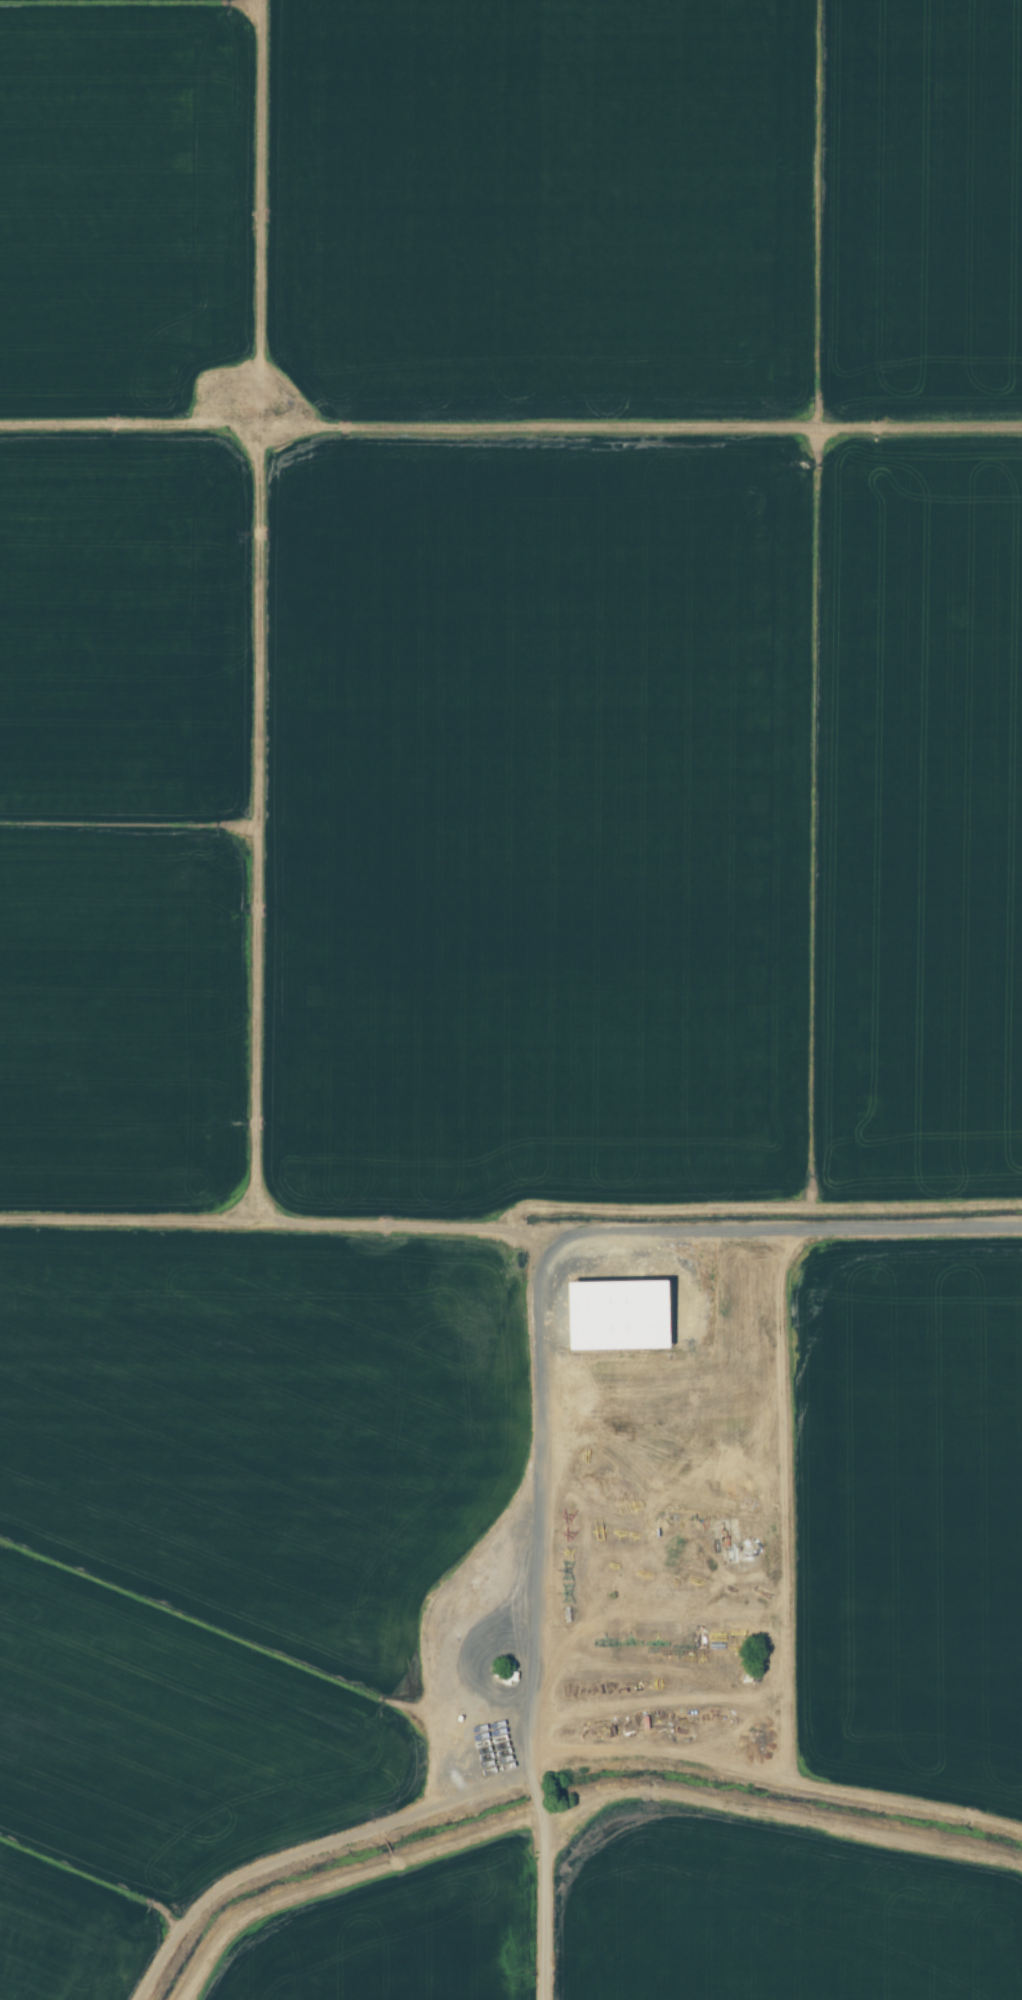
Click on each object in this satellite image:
road: (644, 1226)

